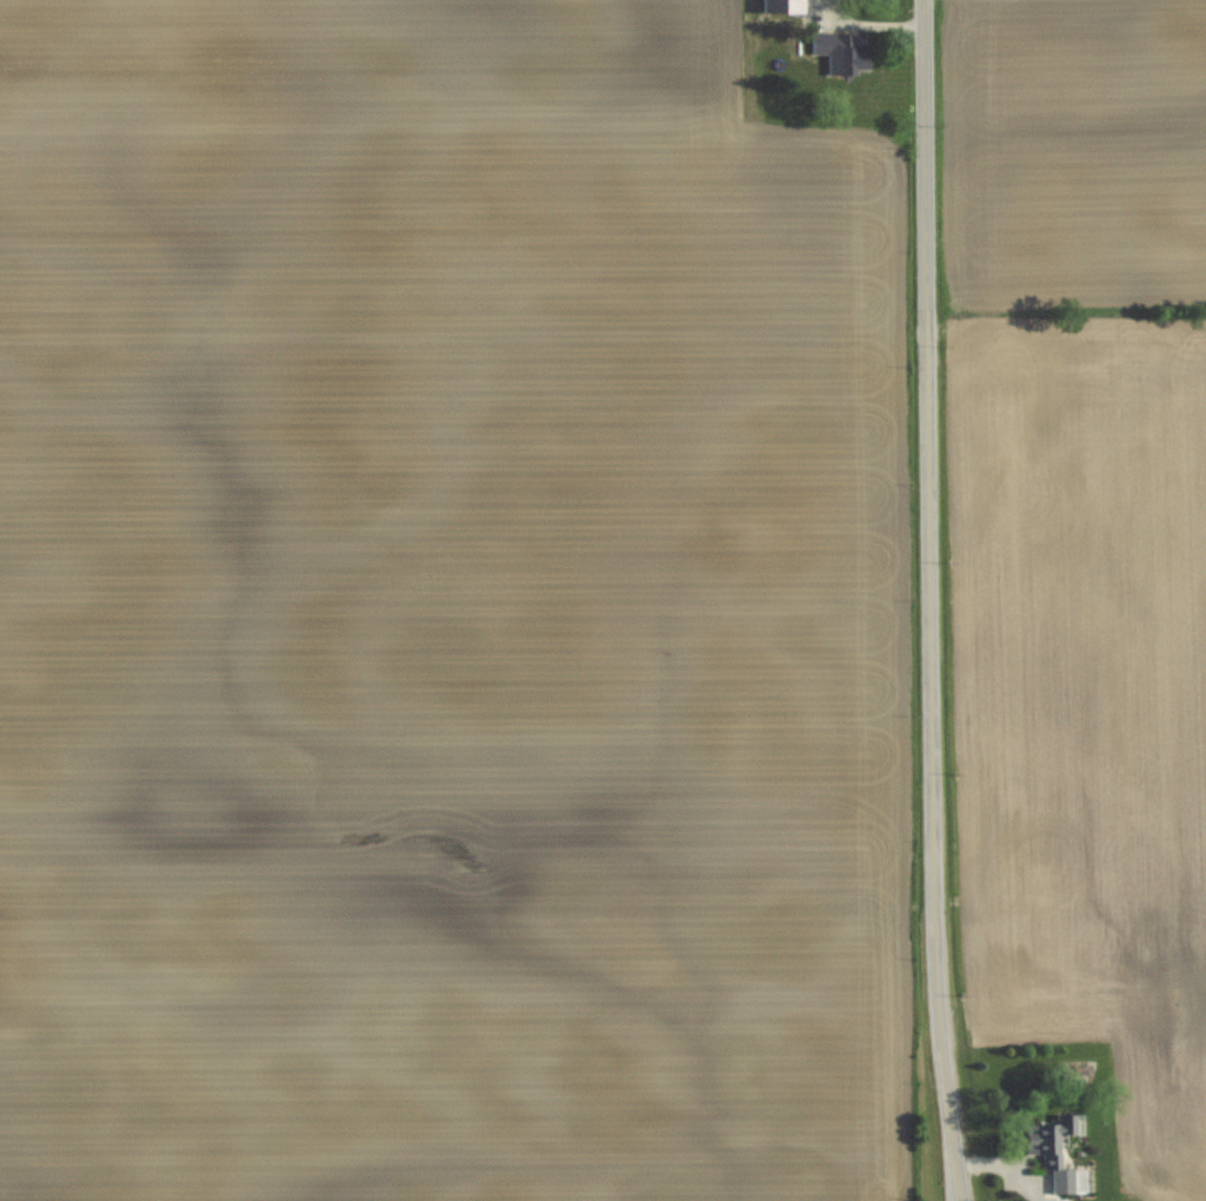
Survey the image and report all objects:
building: (837, 52)
road: (929, 601)
building: (1049, 1156)

